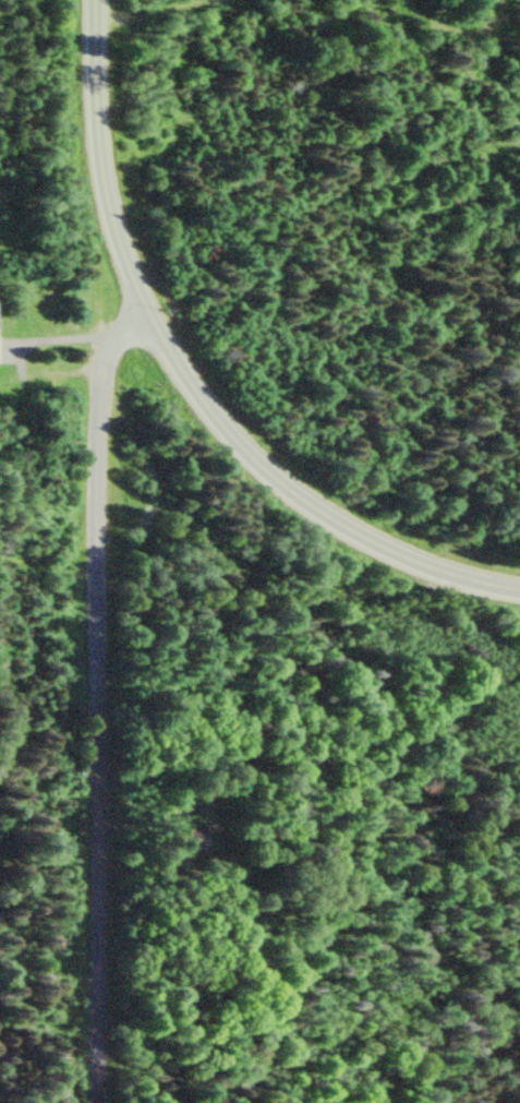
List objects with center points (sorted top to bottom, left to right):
road: (190, 382)
road: (94, 703)

